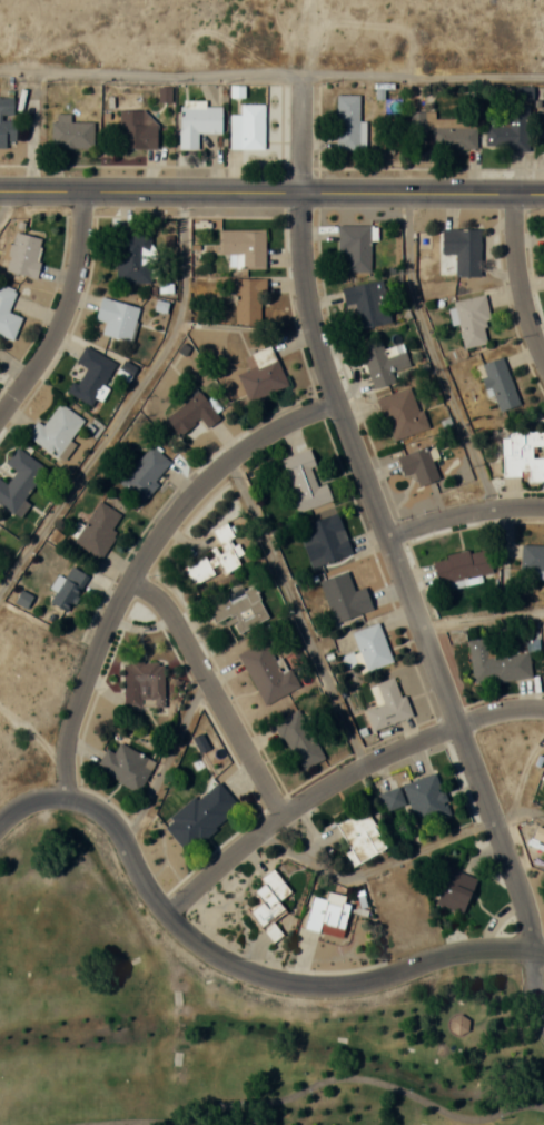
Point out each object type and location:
road: (151, 75)
road: (424, 76)
building: (197, 121)
building: (347, 121)
building: (7, 122)
building: (541, 122)
building: (248, 127)
building: (136, 130)
building: (508, 130)
building: (71, 131)
building: (451, 131)
road: (271, 191)
road: (7, 201)
building: (243, 247)
building: (354, 248)
building: (463, 250)
building: (23, 254)
building: (133, 258)
road: (515, 280)
building: (248, 300)
building: (367, 304)
building: (8, 314)
road: (66, 314)
building: (117, 318)
building: (471, 319)
road: (435, 353)
building: (382, 363)
building: (91, 375)
building: (263, 375)
building: (500, 383)
road: (128, 403)
building: (191, 412)
building: (400, 413)
building: (56, 430)
building: (522, 454)
building: (418, 465)
building: (145, 472)
building: (304, 481)
building: (19, 482)
road: (463, 513)
building: (97, 531)
building: (328, 539)
road: (390, 553)
building: (532, 556)
building: (216, 557)
road: (146, 562)
building: (461, 568)
building: (68, 588)
building: (346, 596)
building: (240, 610)
road: (298, 613)
road: (481, 618)
building: (370, 648)
building: (498, 663)
building: (267, 673)
building: (144, 684)
road: (215, 691)
building: (387, 704)
building: (299, 740)
building: (199, 742)
road: (165, 758)
building: (125, 766)
building: (543, 772)
road: (338, 779)
building: (390, 799)
building: (425, 799)
road: (517, 813)
building: (200, 816)
building: (359, 835)
road: (372, 867)
building: (456, 891)
building: (270, 902)
building: (328, 912)
park: (39, 926)
road: (234, 966)
park: (493, 967)
road: (67, 986)
building: (457, 1023)
road: (293, 1030)
park: (194, 1059)
road: (365, 1079)
road: (119, 1084)
road: (131, 1122)

